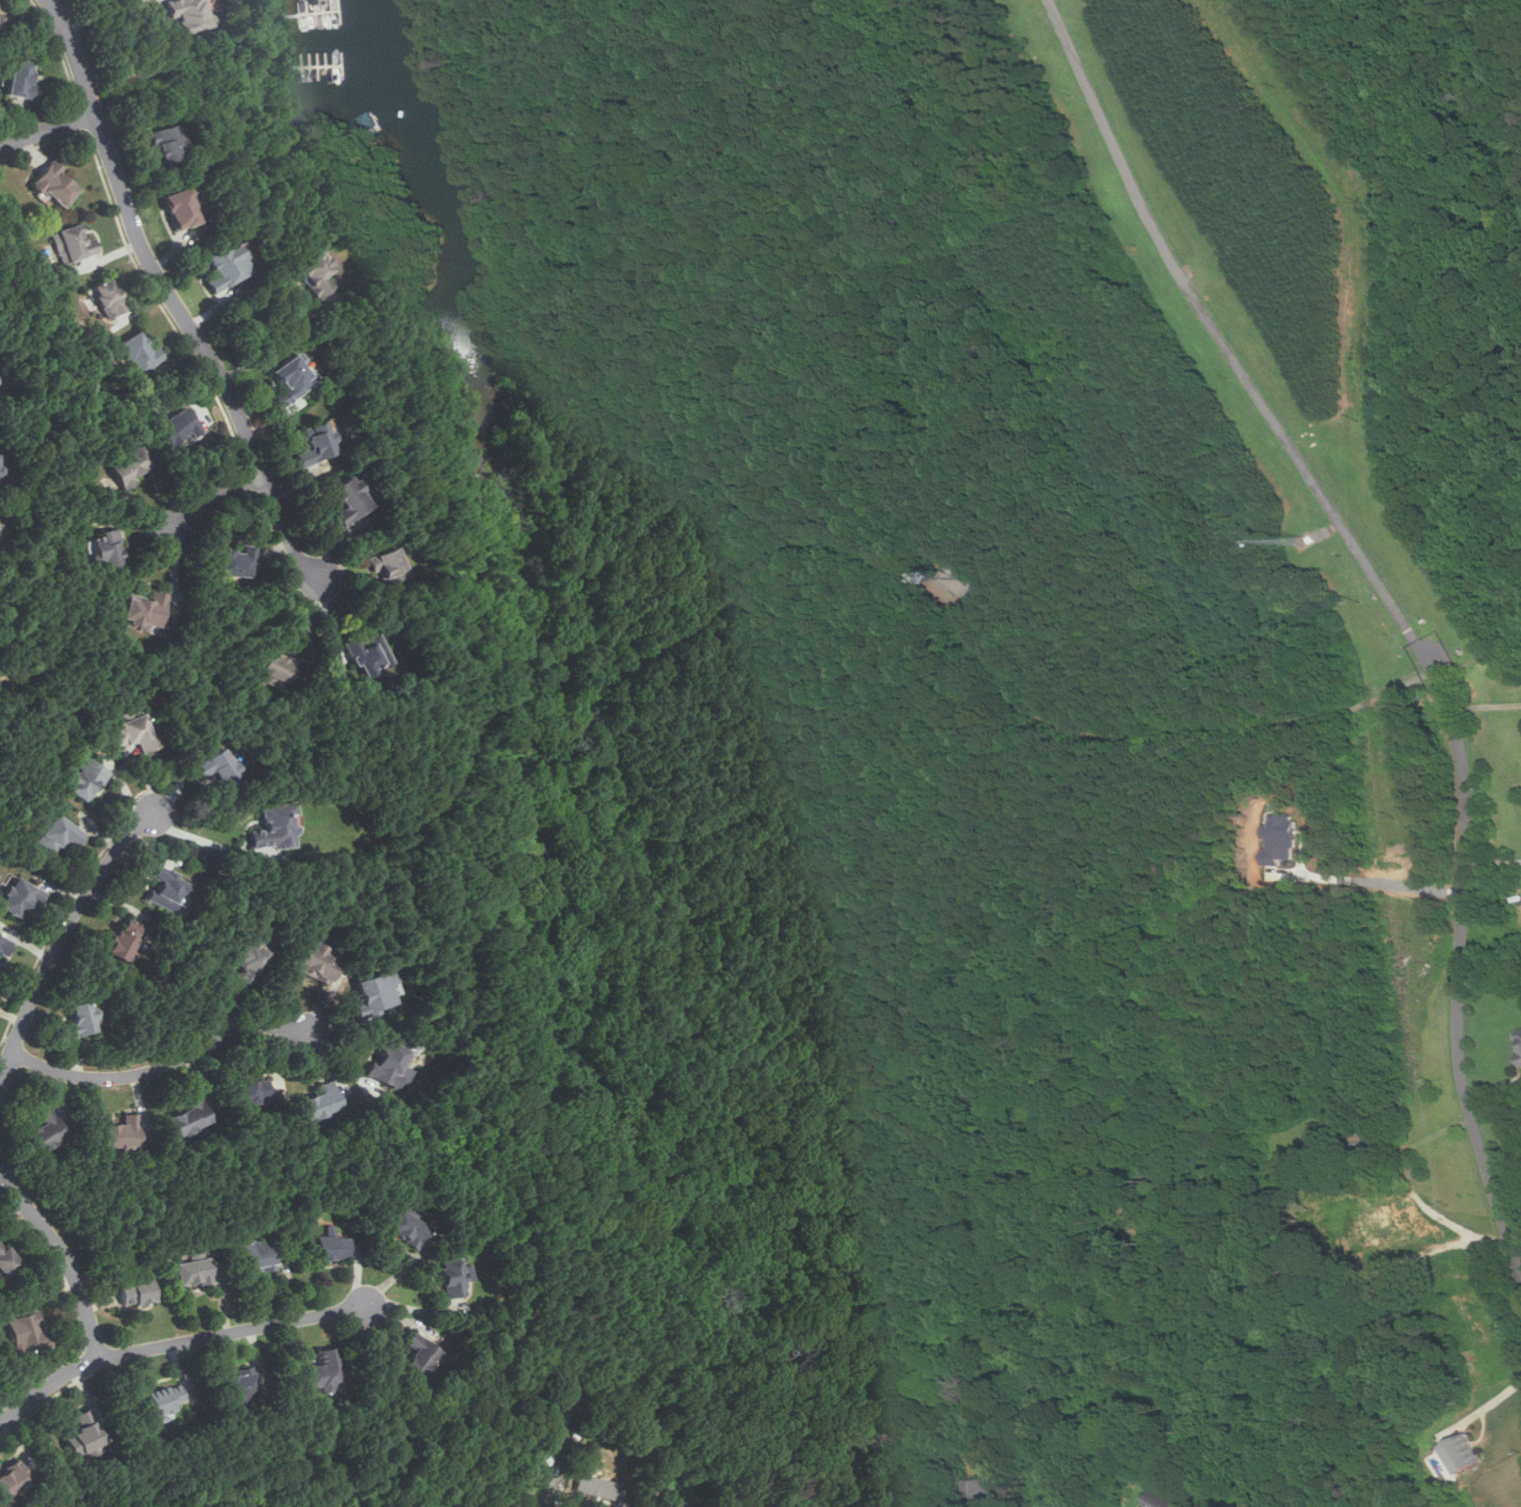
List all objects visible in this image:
building: (2, 13)
road: (102, 13)
building: (185, 14)
building: (17, 77)
road: (48, 131)
building: (165, 141)
building: (51, 182)
building: (178, 207)
building: (73, 242)
building: (222, 264)
building: (314, 275)
building: (103, 296)
road: (173, 297)
road: (282, 341)
building: (135, 350)
building: (289, 376)
building: (174, 425)
building: (317, 438)
building: (127, 466)
road: (216, 499)
building: (347, 499)
building: (104, 547)
building: (234, 561)
building: (383, 564)
road: (174, 584)
road: (1393, 604)
building: (143, 610)
road: (309, 632)
building: (363, 655)
building: (275, 667)
road: (1485, 707)
building: (136, 733)
building: (225, 769)
building: (87, 781)
building: (276, 827)
building: (60, 834)
road: (196, 836)
road: (1493, 863)
road: (1389, 882)
building: (168, 889)
building: (19, 898)
road: (61, 936)
building: (124, 940)
building: (5, 948)
building: (248, 960)
building: (315, 963)
building: (371, 994)
building: (81, 1018)
building: (1519, 1037)
building: (1520, 1057)
building: (388, 1064)
road: (163, 1066)
building: (250, 1093)
building: (321, 1103)
building: (191, 1116)
building: (47, 1131)
building: (122, 1133)
building: (1368, 1144)
building: (407, 1228)
building: (330, 1248)
road: (64, 1252)
building: (258, 1256)
building: (6, 1260)
building: (192, 1273)
building: (453, 1277)
building: (136, 1294)
building: (27, 1333)
road: (175, 1343)
building: (419, 1354)
building: (325, 1371)
building: (240, 1385)
building: (165, 1399)
road: (1488, 1404)
building: (83, 1434)
building: (1463, 1453)
building: (11, 1478)
road: (936, 1480)
building: (988, 1490)
building: (1163, 1499)
building: (674, 1502)

